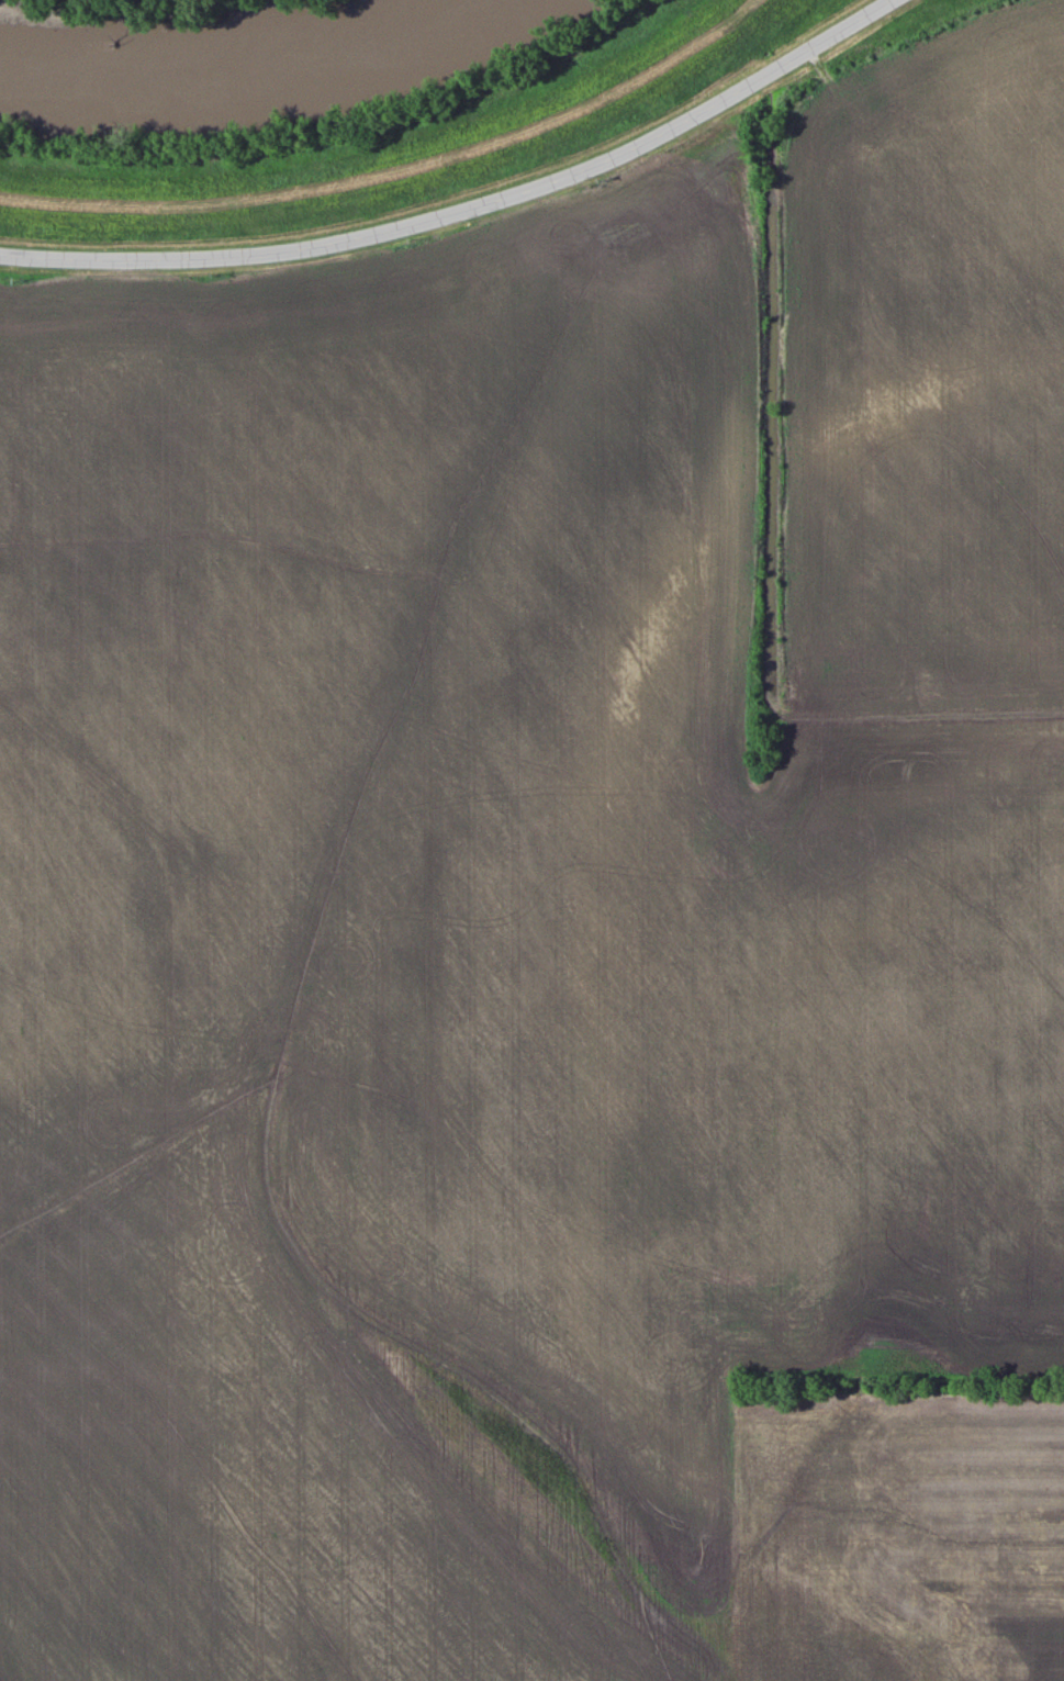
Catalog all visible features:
river: (245, 66)
road: (478, 212)

